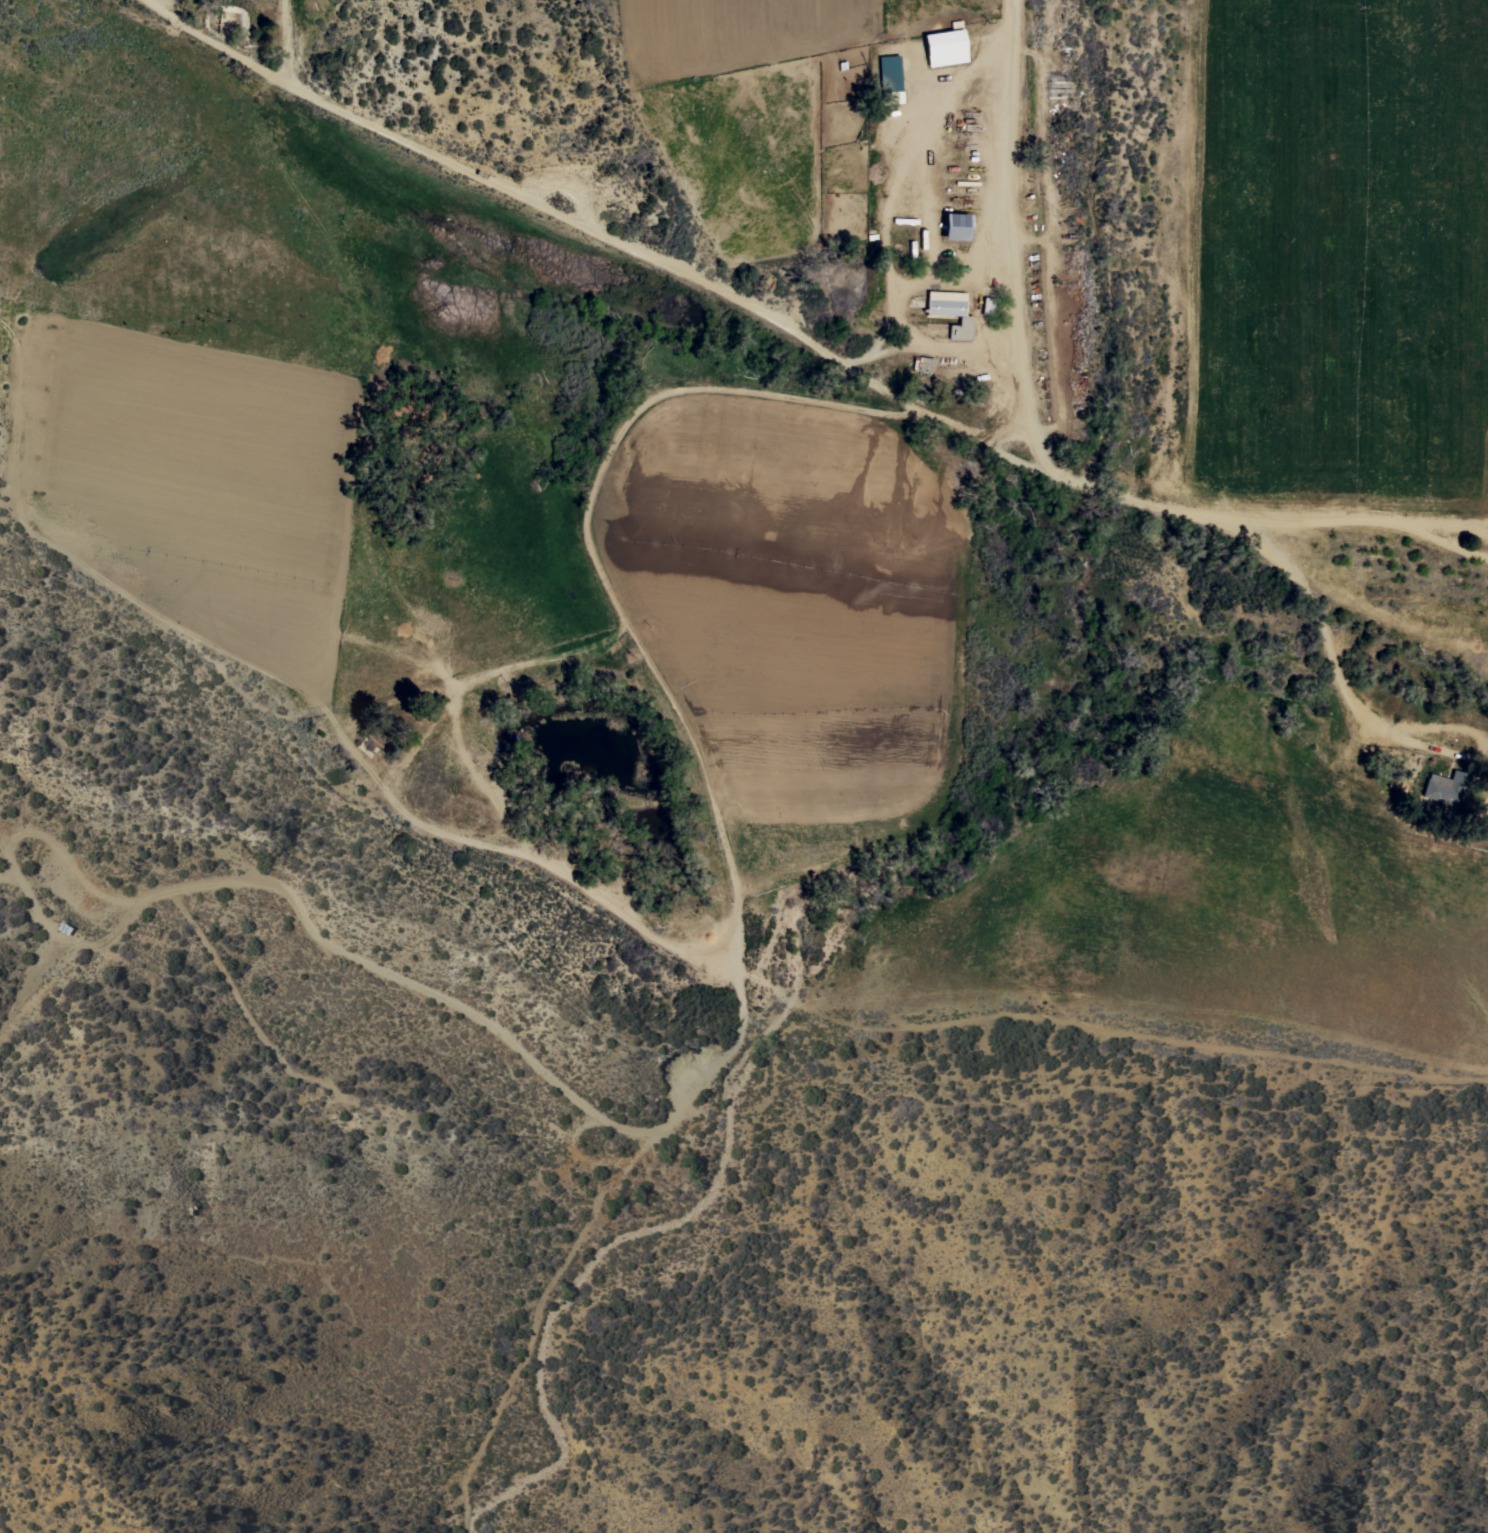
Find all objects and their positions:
building: (945, 45)
building: (889, 78)
crop: (755, 103)
road: (992, 168)
building: (955, 225)
crop: (1337, 263)
building: (987, 305)
building: (951, 311)
building: (923, 363)
road: (1193, 517)
road: (1369, 520)
road: (1449, 544)
crop: (789, 618)
crop: (1319, 907)

